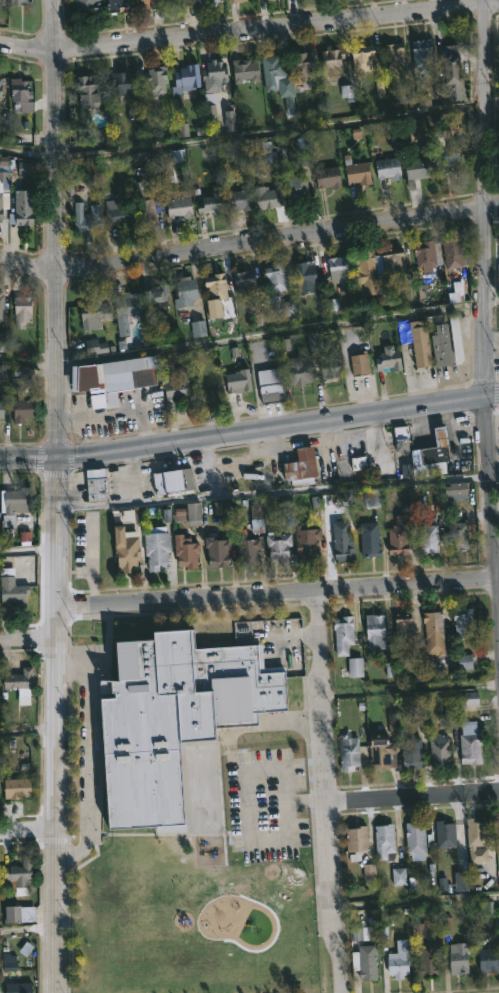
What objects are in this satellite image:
building: (203, 1)
building: (233, 1)
building: (238, 1)
building: (19, 2)
building: (3, 3)
building: (150, 4)
building: (88, 6)
building: (117, 6)
building: (174, 7)
road: (250, 35)
building: (393, 54)
building: (421, 54)
building: (360, 60)
building: (330, 62)
building: (300, 65)
building: (243, 71)
building: (271, 71)
building: (213, 74)
building: (451, 77)
building: (185, 78)
building: (121, 82)
building: (152, 82)
building: (2, 87)
building: (21, 90)
building: (87, 92)
building: (1, 102)
road: (249, 140)
building: (442, 149)
building: (386, 168)
building: (416, 169)
building: (356, 173)
building: (326, 178)
building: (5, 186)
building: (296, 187)
building: (267, 198)
building: (237, 200)
building: (176, 204)
building: (209, 204)
building: (23, 207)
building: (144, 208)
building: (116, 212)
building: (88, 217)
road: (250, 246)
building: (451, 251)
building: (426, 254)
building: (363, 260)
building: (392, 260)
building: (337, 266)
building: (303, 275)
building: (243, 281)
building: (277, 289)
building: (184, 290)
building: (214, 293)
building: (155, 294)
building: (2, 304)
road: (486, 306)
building: (124, 309)
building: (25, 310)
building: (91, 312)
road: (249, 336)
building: (455, 338)
building: (419, 344)
building: (440, 345)
building: (387, 359)
building: (358, 363)
building: (329, 367)
building: (297, 370)
building: (113, 378)
building: (236, 380)
building: (270, 385)
building: (176, 386)
building: (2, 408)
building: (24, 409)
road: (250, 435)
building: (400, 437)
building: (433, 454)
building: (359, 464)
building: (299, 466)
building: (171, 481)
building: (94, 484)
building: (456, 492)
road: (58, 496)
road: (279, 497)
building: (375, 498)
building: (16, 500)
building: (254, 516)
building: (0, 518)
building: (456, 534)
building: (396, 537)
building: (427, 538)
building: (340, 539)
building: (367, 540)
building: (305, 542)
building: (276, 546)
building: (154, 549)
building: (124, 550)
building: (244, 550)
building: (183, 551)
building: (215, 551)
road: (30, 554)
building: (13, 588)
road: (278, 596)
building: (462, 622)
building: (401, 626)
building: (374, 631)
building: (433, 632)
building: (342, 634)
road: (29, 640)
building: (21, 681)
road: (410, 694)
building: (169, 716)
road: (28, 736)
building: (469, 744)
building: (438, 749)
building: (347, 751)
building: (380, 751)
building: (411, 752)
road: (86, 763)
building: (18, 788)
road: (328, 793)
road: (414, 797)
road: (28, 828)
building: (444, 834)
building: (474, 834)
building: (414, 838)
building: (355, 841)
building: (384, 841)
building: (19, 874)
building: (400, 878)
road: (417, 904)
road: (28, 932)
building: (458, 958)
building: (399, 959)
building: (427, 959)
building: (487, 960)
building: (366, 965)
building: (20, 987)

